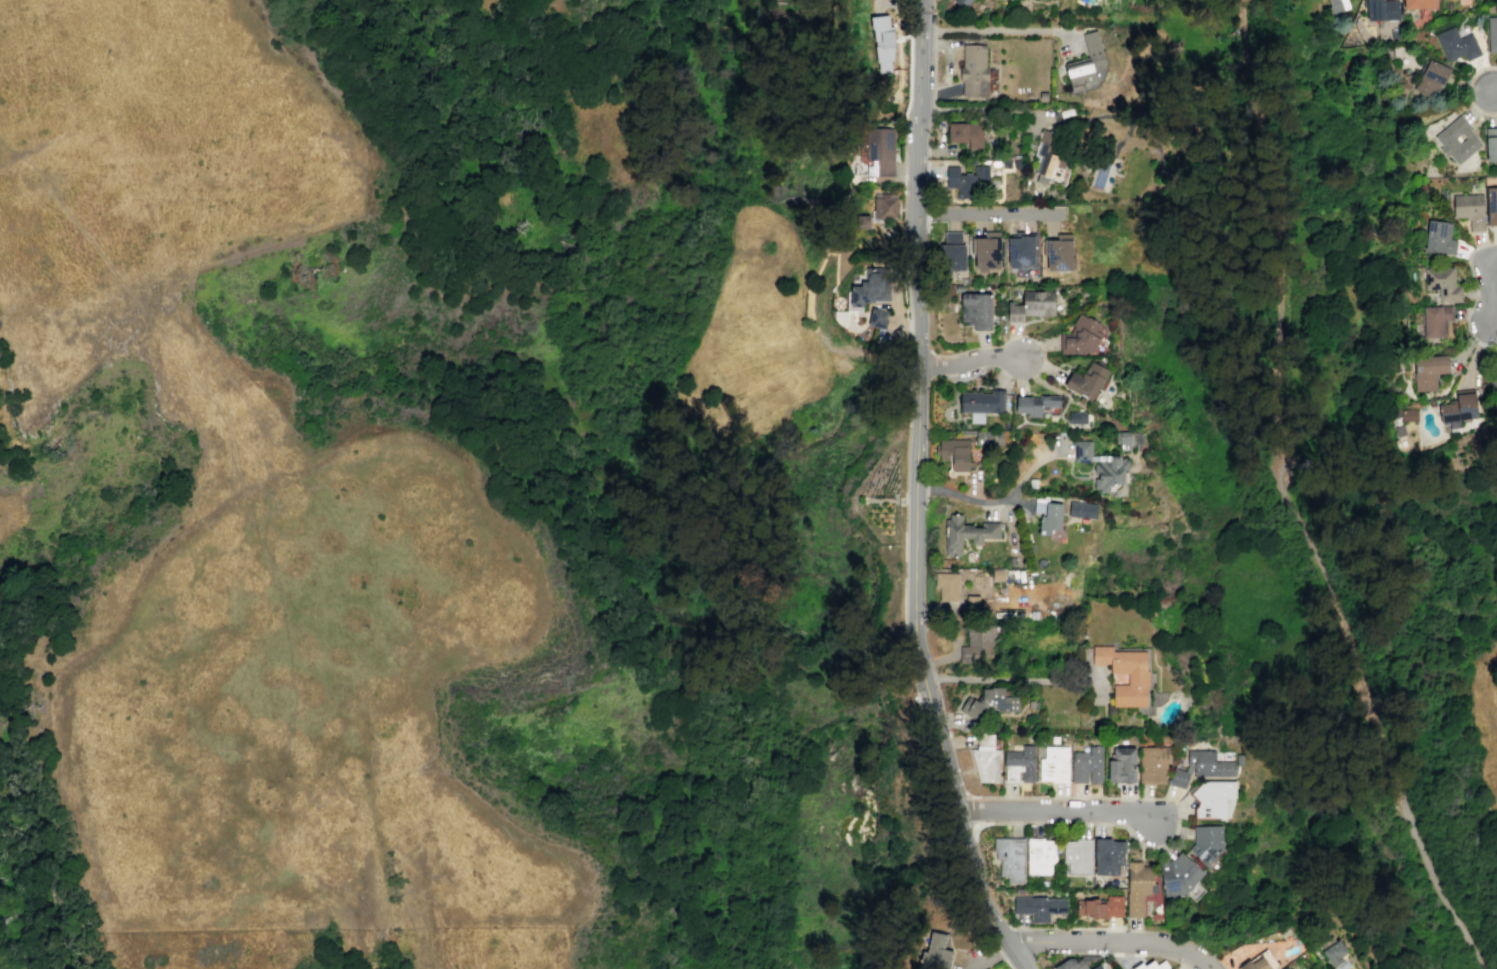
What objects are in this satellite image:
building: (1010, 0)
building: (962, 3)
building: (1418, 4)
building: (1337, 5)
building: (1381, 9)
road: (910, 19)
road: (1031, 20)
road: (1007, 30)
building: (1492, 33)
building: (882, 41)
building: (1456, 44)
building: (1085, 61)
road: (948, 67)
building: (973, 70)
building: (1431, 78)
road: (1493, 88)
road: (946, 90)
road: (1467, 90)
building: (966, 133)
building: (1446, 140)
building: (1490, 144)
building: (881, 152)
building: (1050, 159)
building: (972, 182)
building: (1491, 205)
building: (886, 208)
building: (1469, 209)
road: (988, 214)
building: (863, 222)
building: (1439, 238)
building: (1022, 250)
building: (954, 251)
building: (987, 253)
building: (1058, 253)
road: (1473, 283)
building: (1443, 284)
road: (1487, 284)
building: (871, 287)
building: (1031, 305)
building: (976, 309)
building: (877, 317)
building: (1435, 320)
building: (1080, 335)
road: (1469, 342)
road: (1474, 343)
road: (1489, 345)
road: (1477, 352)
building: (1496, 358)
road: (969, 361)
building: (1428, 370)
building: (1085, 380)
building: (1494, 384)
building: (981, 403)
building: (1035, 404)
road: (1290, 405)
building: (1458, 409)
building: (1396, 412)
building: (1408, 415)
building: (1077, 417)
building: (1399, 430)
building: (981, 437)
building: (1124, 440)
building: (954, 455)
building: (1101, 466)
road: (915, 479)
road: (1002, 499)
road: (1286, 501)
road: (905, 507)
building: (1082, 510)
building: (1048, 515)
building: (967, 534)
building: (997, 575)
building: (948, 585)
building: (975, 648)
road: (1015, 678)
building: (1137, 678)
building: (990, 702)
building: (986, 764)
building: (1019, 764)
building: (1054, 764)
building: (1122, 764)
building: (1088, 765)
building: (1152, 765)
building: (1201, 767)
building: (1213, 799)
road: (1062, 812)
building: (1208, 844)
building: (1040, 855)
building: (1078, 856)
building: (1108, 856)
building: (1010, 858)
building: (1179, 875)
building: (1139, 887)
building: (1194, 891)
building: (1040, 907)
building: (1096, 908)
road: (1064, 928)
road: (1001, 934)
road: (1087, 941)
road: (1049, 947)
building: (937, 950)
building: (1334, 952)
road: (1122, 953)
road: (1192, 953)
road: (1015, 956)
road: (988, 957)
building: (1070, 964)
building: (1254, 964)
building: (1151, 965)
building: (1096, 967)
building: (1285, 967)

